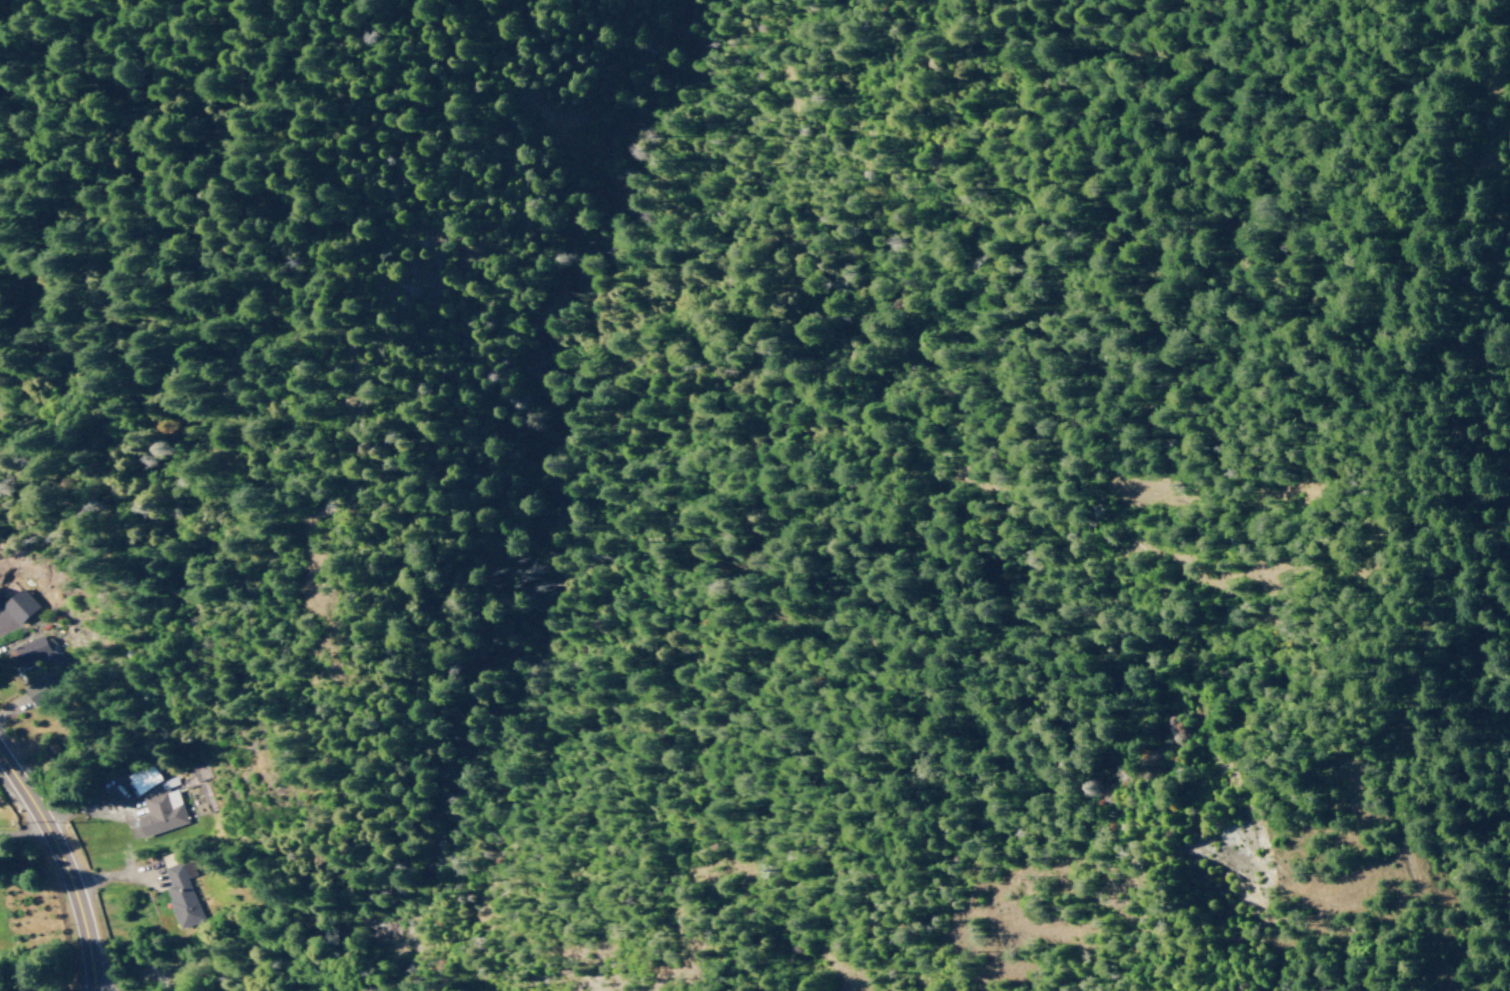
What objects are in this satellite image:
road: (1495, 58)
road: (1416, 604)
building: (18, 606)
building: (38, 690)
road: (25, 700)
building: (143, 778)
building: (167, 782)
building: (161, 812)
road: (68, 813)
road: (65, 865)
road: (115, 874)
building: (181, 894)

